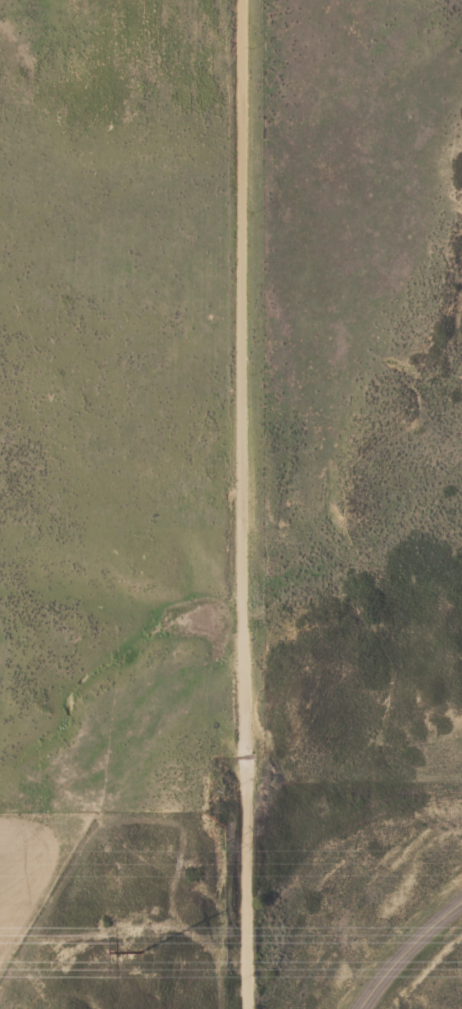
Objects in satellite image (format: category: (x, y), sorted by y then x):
road: (243, 504)
power tower: (189, 859)
road: (405, 949)
power tower: (142, 950)

